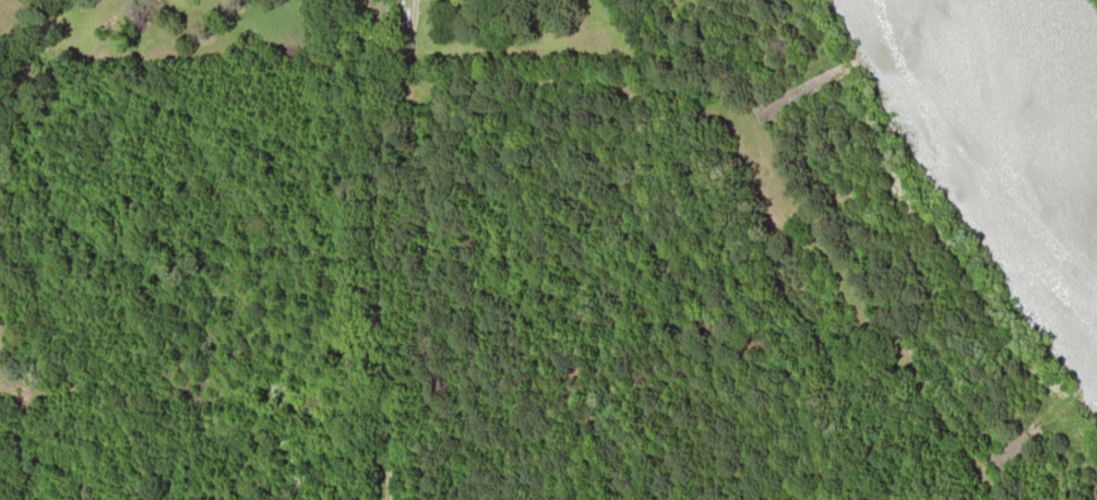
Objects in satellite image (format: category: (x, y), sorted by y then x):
building: (370, 1)
road: (384, 248)

